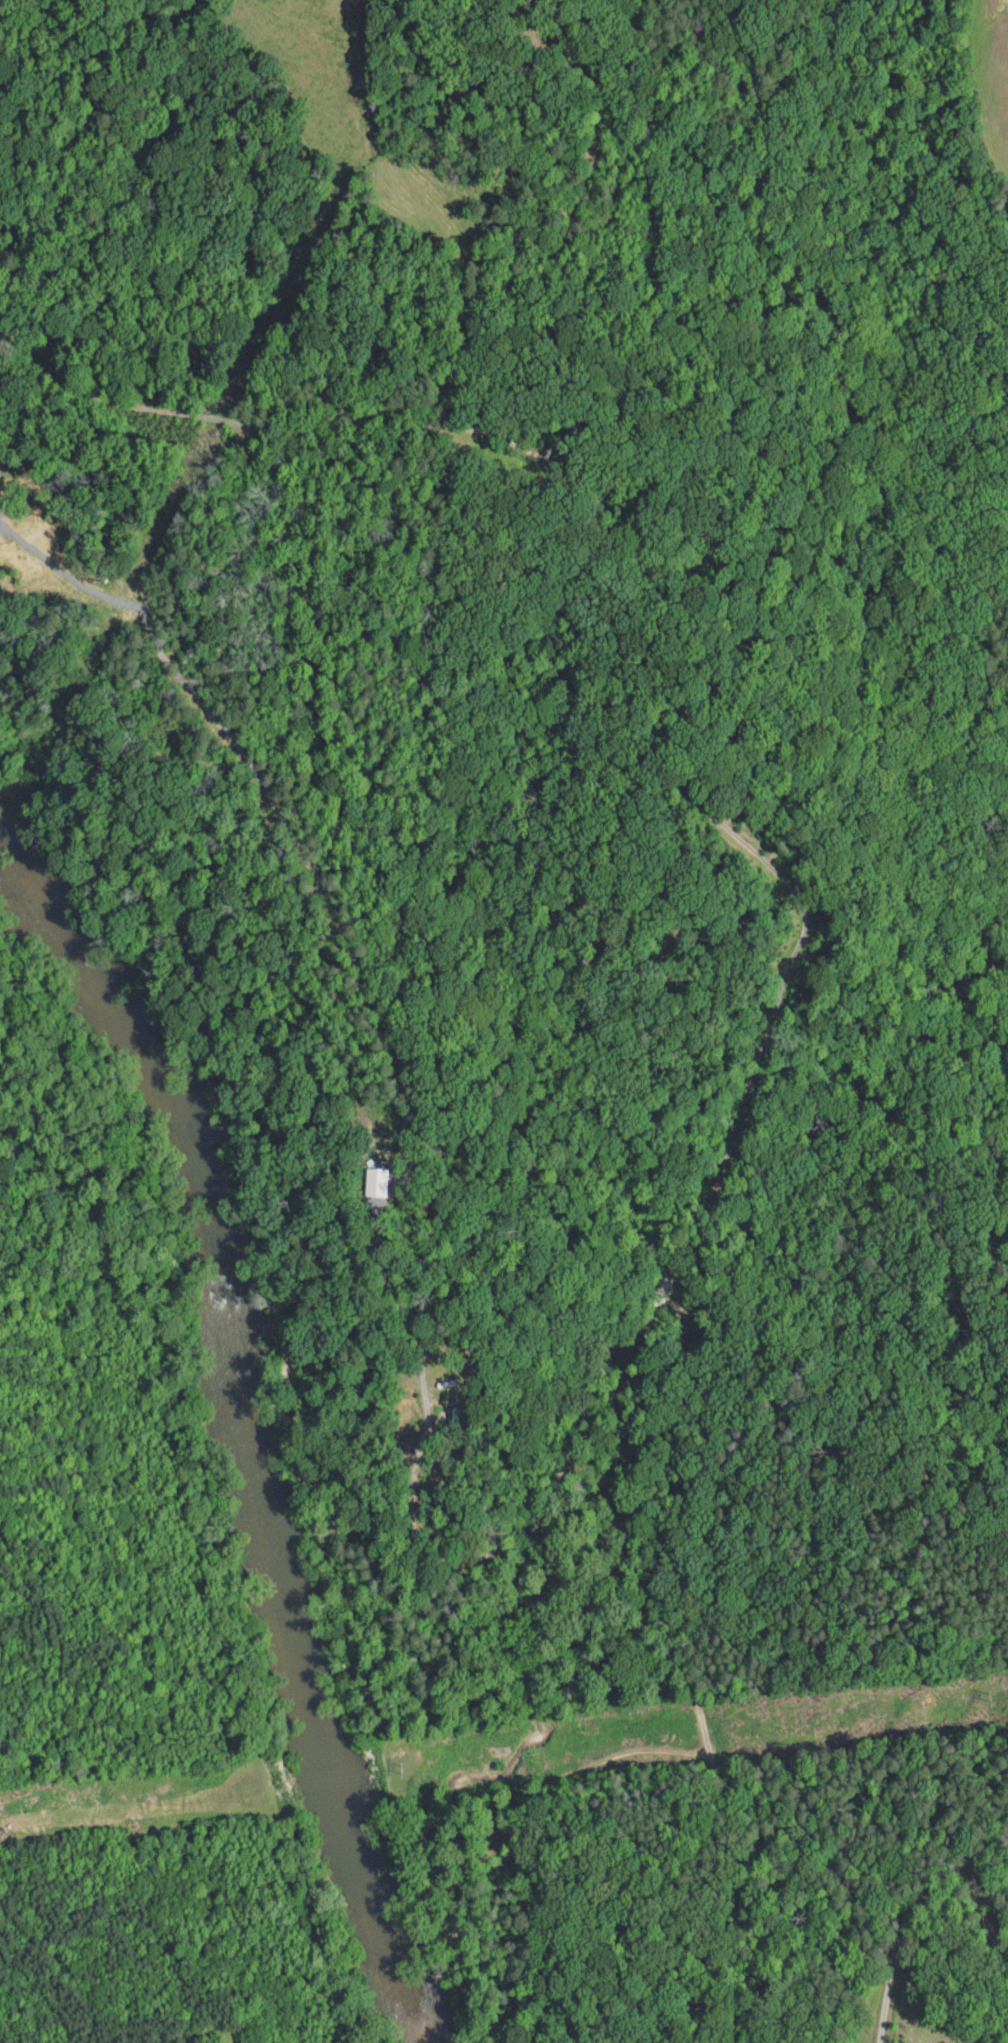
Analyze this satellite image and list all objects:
road: (440, 202)
road: (122, 391)
road: (401, 413)
road: (768, 864)
road: (401, 1072)
building: (363, 1175)
river: (231, 1370)
road: (624, 1397)
road: (101, 1473)
road: (725, 1790)
road: (981, 1911)
river: (401, 1968)
road: (889, 1970)

